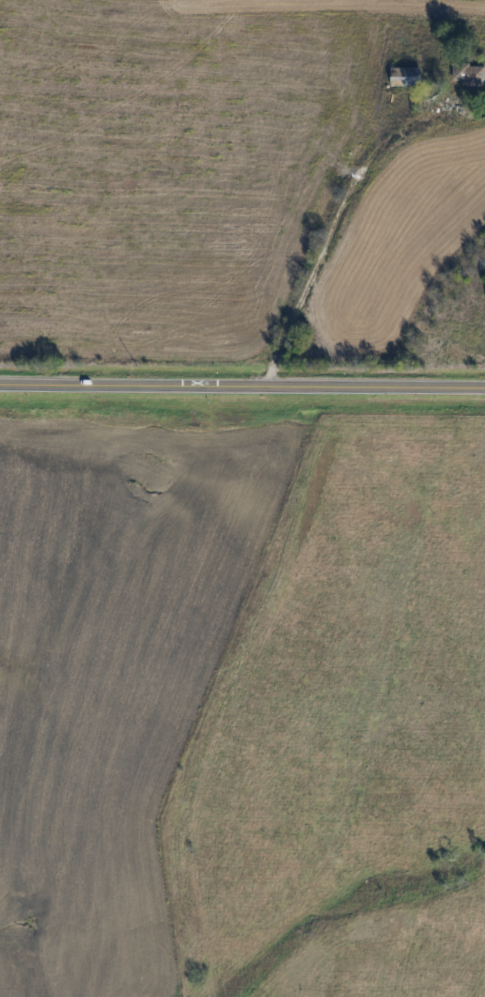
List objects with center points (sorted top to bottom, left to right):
building: (469, 75)
building: (405, 76)
road: (324, 240)
road: (242, 387)

